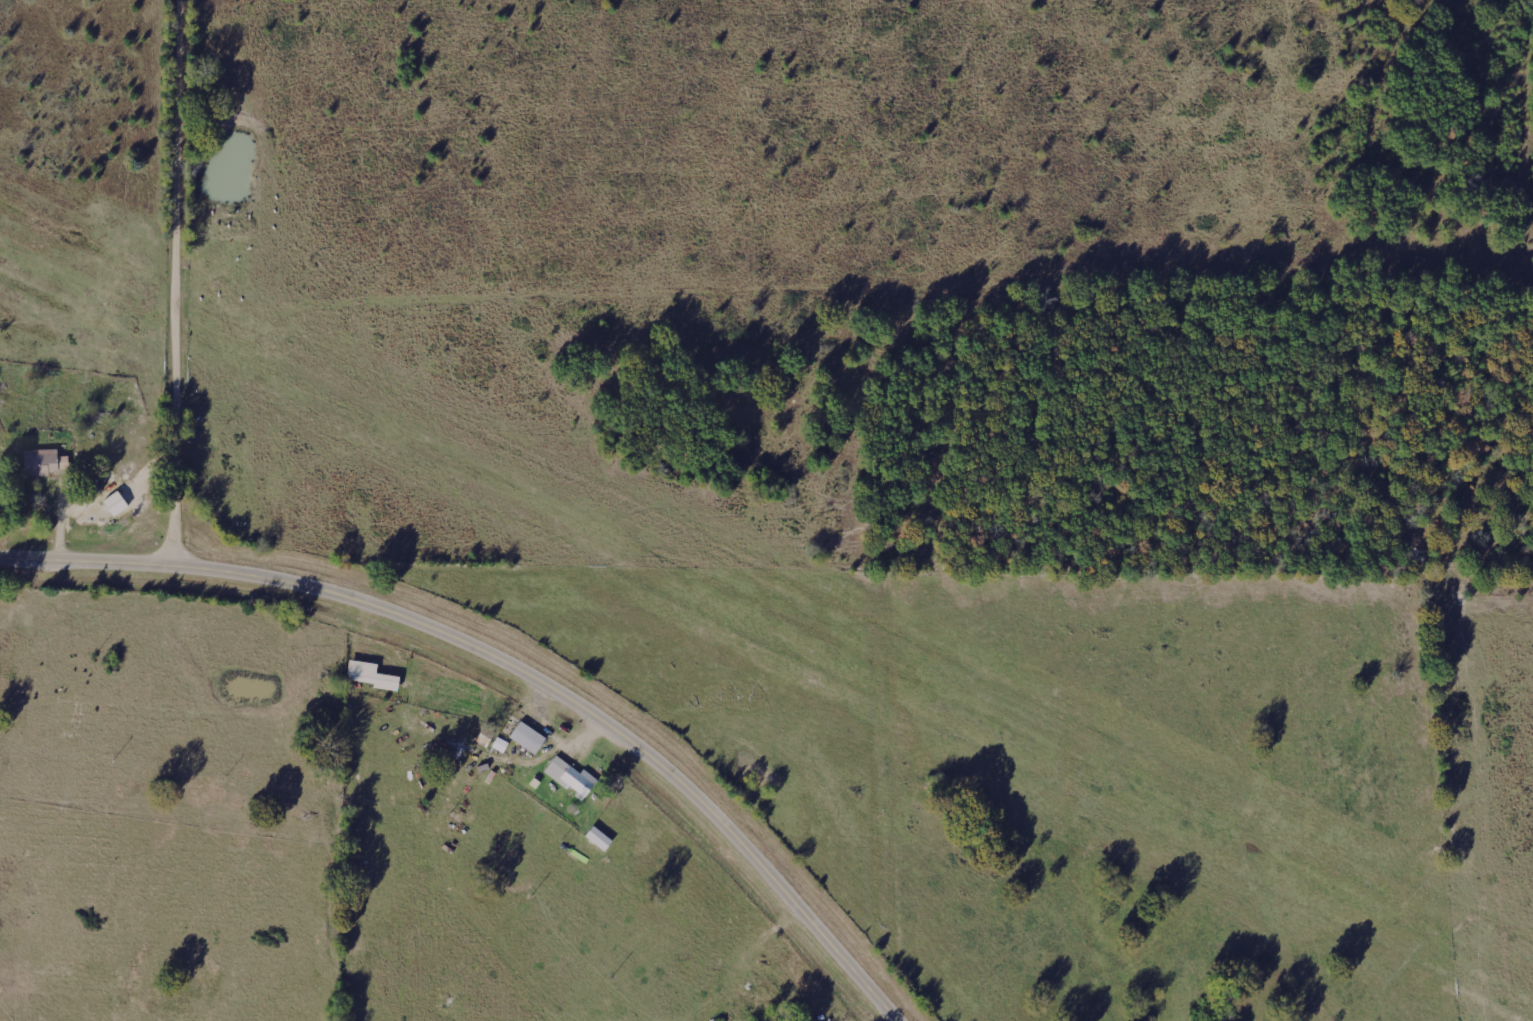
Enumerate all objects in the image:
road: (184, 283)
road: (863, 314)
building: (47, 462)
road: (506, 667)
building: (374, 675)
building: (530, 737)
building: (501, 745)
building: (573, 777)
building: (601, 839)

